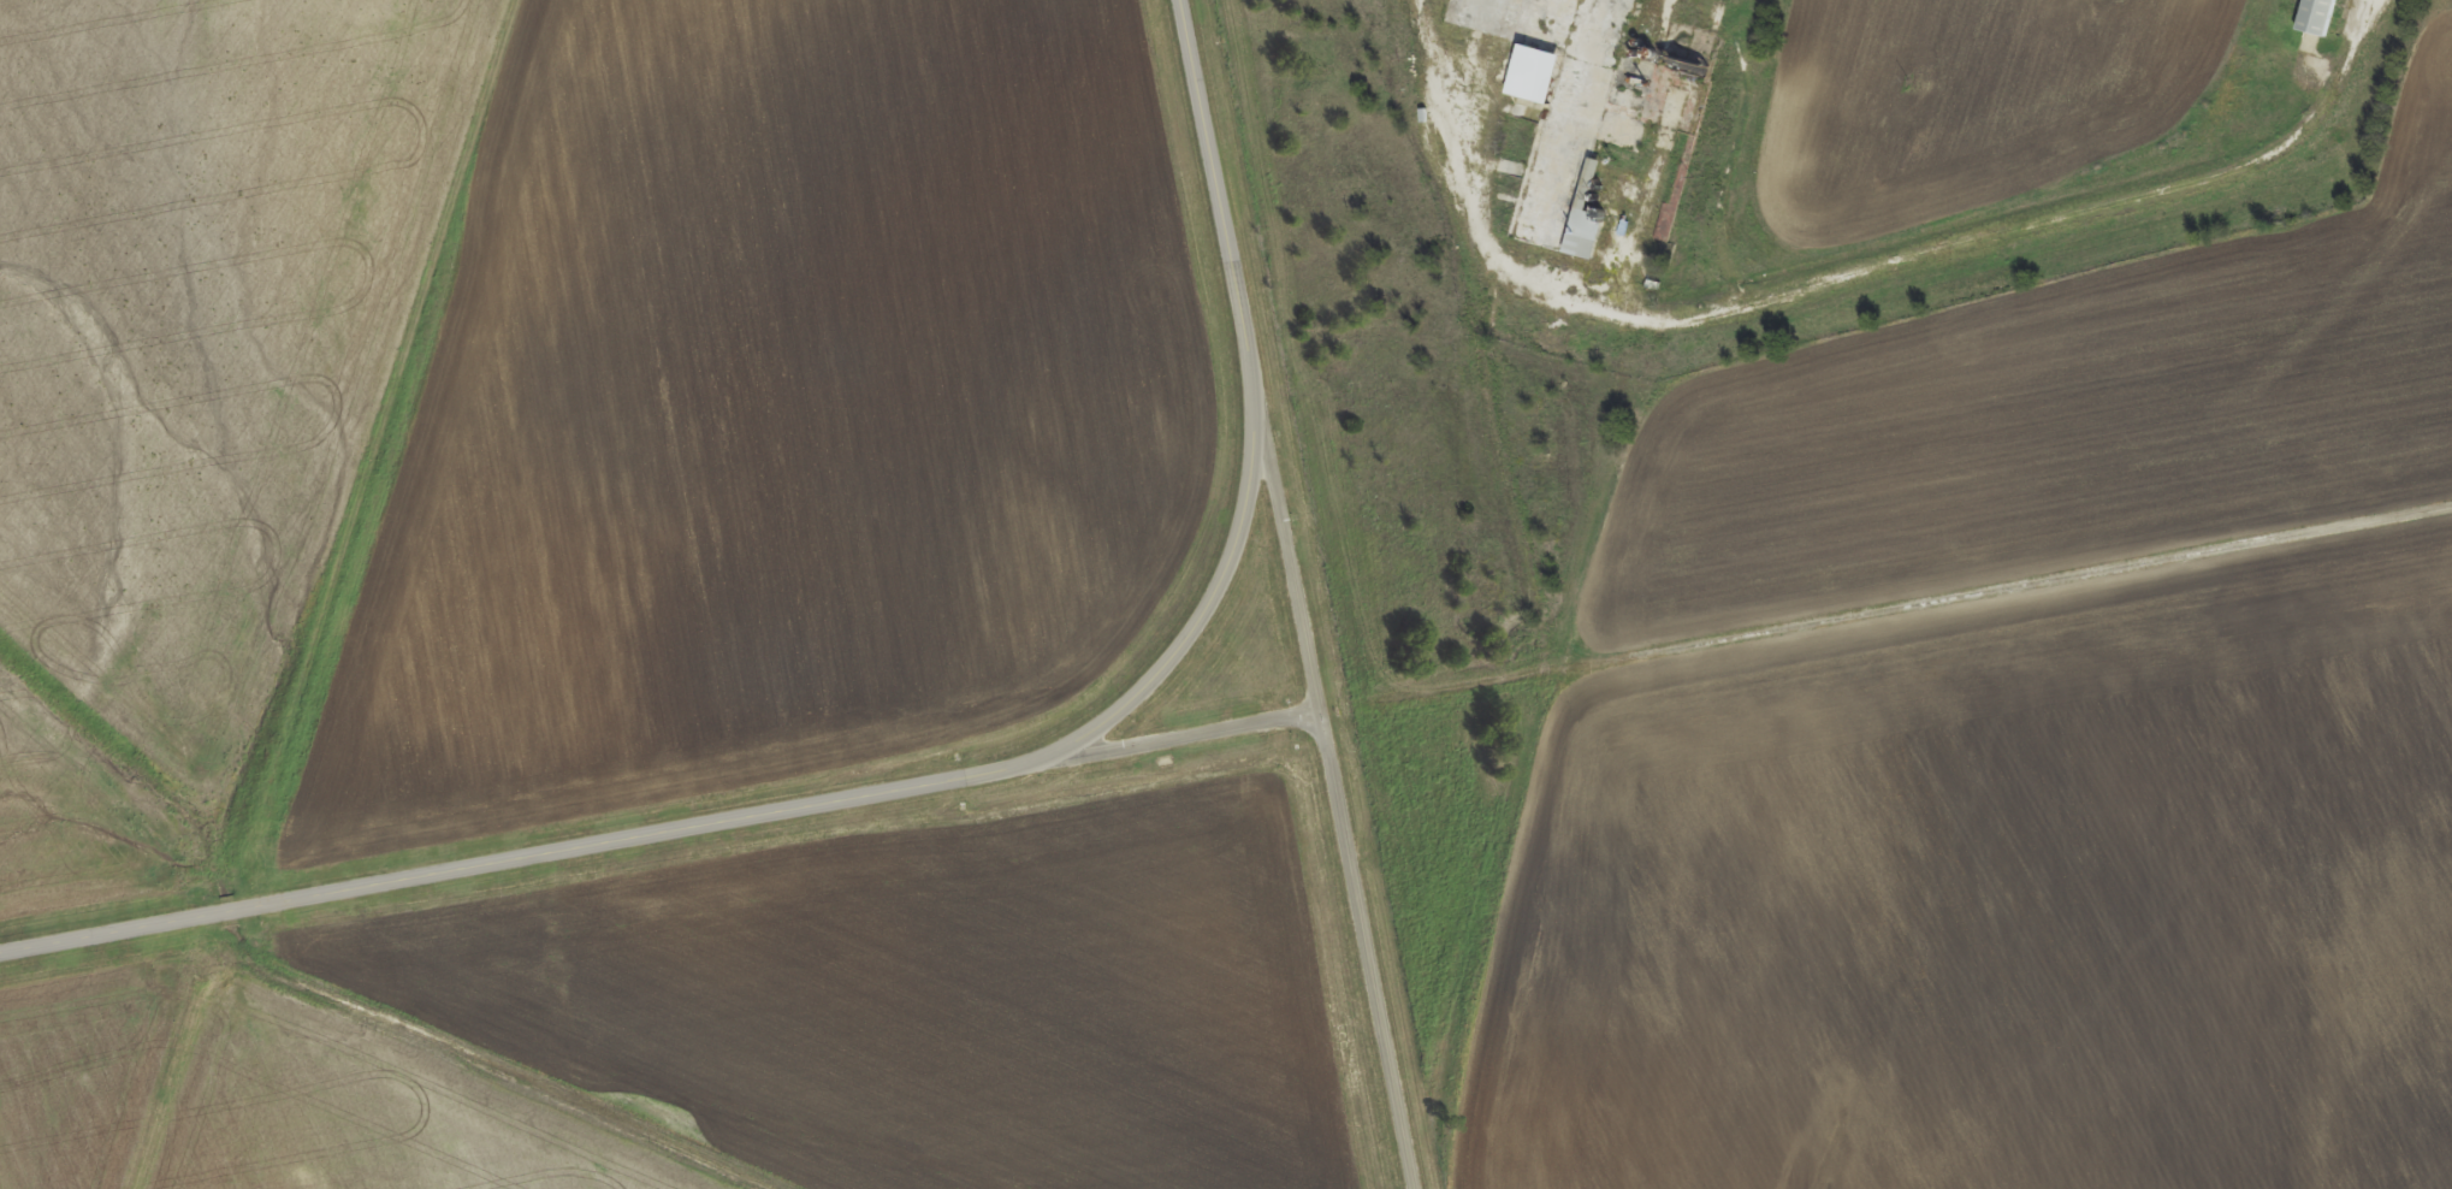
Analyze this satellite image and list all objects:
building: (2314, 16)
building: (1536, 73)
road: (1722, 142)
road: (1228, 190)
road: (1464, 211)
road: (1865, 258)
road: (1299, 548)
road: (2004, 587)
road: (320, 592)
road: (1219, 611)
railway: (1509, 739)
road: (1186, 740)
building: (1390, 751)
road: (520, 858)
road: (1378, 952)

